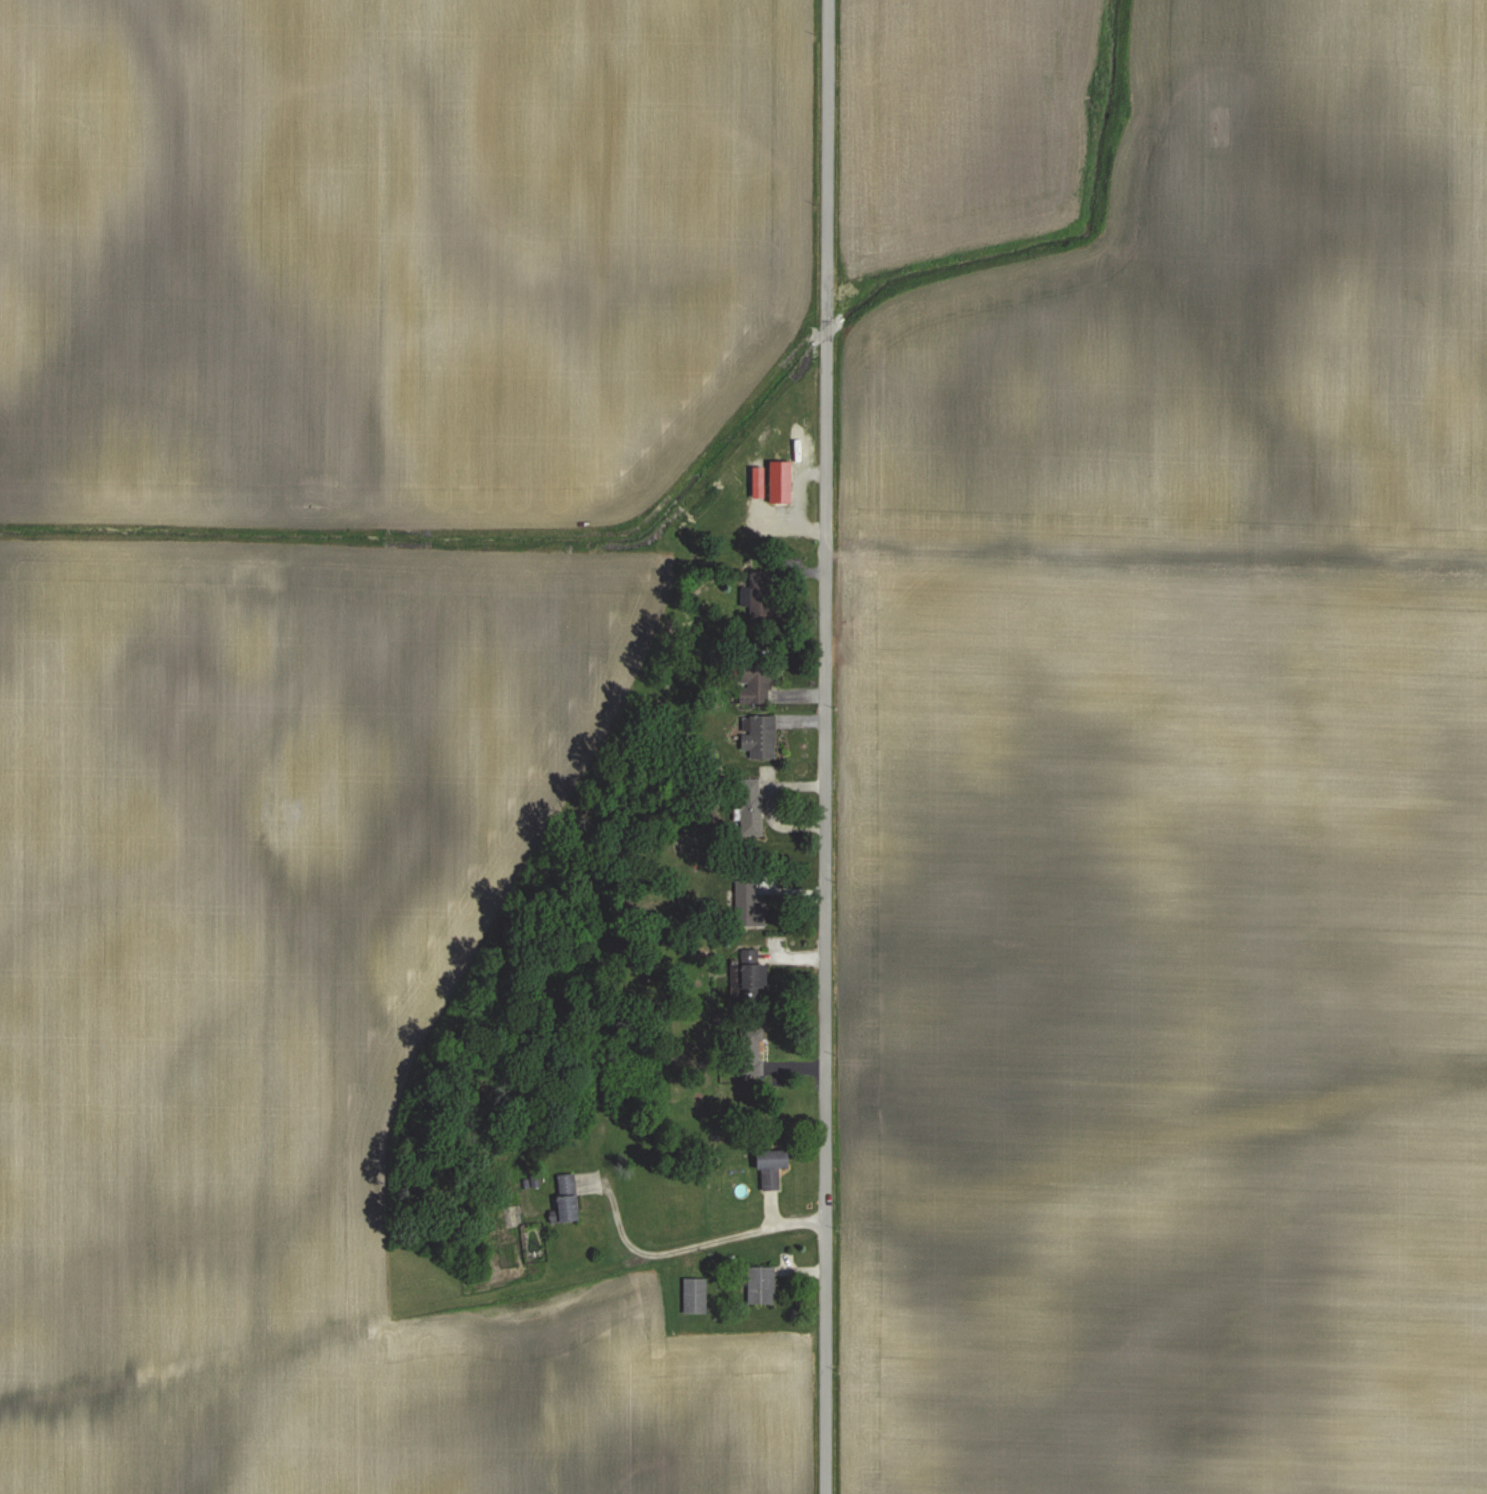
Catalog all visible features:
road: (821, 746)
building: (751, 814)
building: (776, 1167)
building: (568, 1199)
road: (671, 1255)
building: (764, 1285)
building: (697, 1295)

